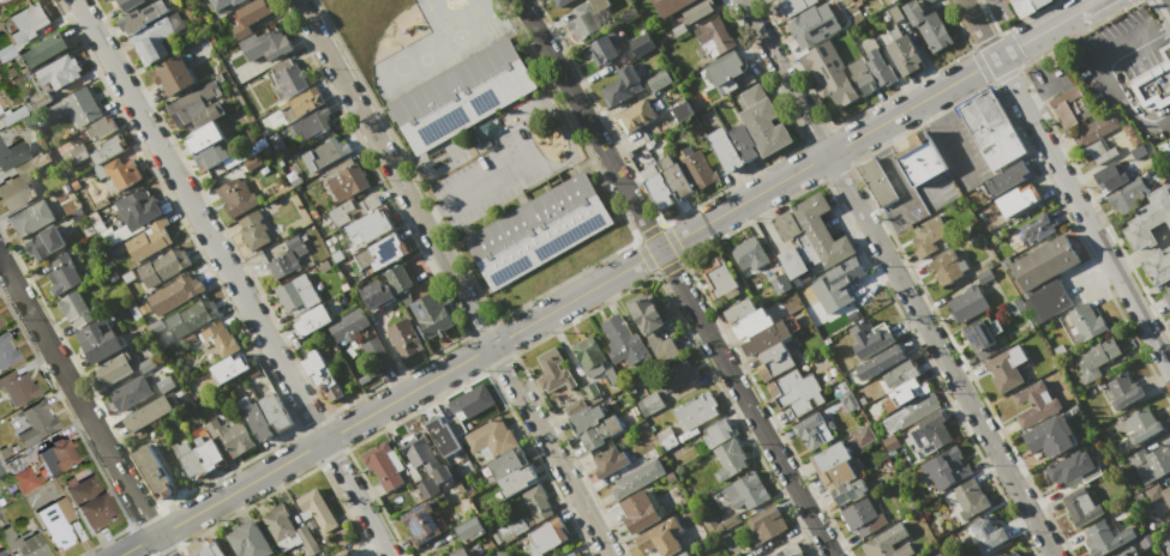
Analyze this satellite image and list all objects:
building: (103, 0)
building: (106, 0)
building: (550, 0)
building: (1030, 0)
building: (894, 1)
building: (926, 1)
building: (222, 2)
building: (559, 2)
building: (1039, 2)
building: (127, 5)
building: (793, 6)
building: (1021, 6)
building: (671, 7)
building: (696, 10)
building: (894, 13)
building: (142, 17)
building: (250, 17)
building: (590, 17)
building: (28, 22)
building: (842, 24)
building: (805, 25)
building: (928, 25)
building: (678, 29)
road: (1046, 30)
building: (715, 35)
building: (151, 41)
building: (265, 44)
building: (641, 44)
building: (602, 49)
building: (43, 50)
building: (6, 53)
building: (905, 54)
building: (725, 68)
building: (60, 69)
road: (1100, 71)
building: (870, 72)
building: (828, 73)
building: (173, 75)
building: (288, 78)
building: (659, 80)
building: (622, 85)
building: (1153, 86)
road: (1032, 92)
building: (462, 95)
building: (37, 101)
building: (301, 104)
building: (197, 105)
building: (74, 107)
building: (1069, 107)
building: (682, 110)
building: (0, 111)
building: (0, 115)
building: (637, 115)
building: (762, 121)
building: (308, 122)
building: (100, 127)
building: (1097, 128)
building: (991, 129)
road: (943, 134)
building: (1130, 134)
building: (203, 138)
building: (742, 141)
building: (275, 143)
building: (107, 150)
building: (725, 150)
building: (1165, 150)
building: (1138, 151)
building: (1094, 152)
building: (324, 153)
building: (12, 155)
building: (210, 156)
building: (920, 158)
building: (251, 162)
building: (696, 168)
building: (121, 173)
building: (674, 177)
building: (1110, 177)
building: (1006, 179)
building: (346, 180)
building: (876, 182)
building: (20, 185)
road: (1066, 185)
building: (656, 186)
road: (475, 187)
building: (1126, 195)
building: (235, 197)
building: (1018, 199)
building: (138, 208)
building: (352, 208)
building: (31, 218)
building: (1148, 219)
building: (786, 225)
building: (368, 226)
building: (1037, 229)
building: (253, 230)
building: (538, 230)
building: (928, 235)
building: (815, 238)
building: (149, 241)
building: (44, 242)
building: (382, 252)
building: (746, 253)
building: (288, 255)
building: (949, 265)
building: (163, 266)
building: (1157, 266)
building: (845, 272)
building: (62, 274)
road: (230, 277)
building: (398, 277)
road: (895, 277)
building: (1044, 277)
road: (450, 278)
road: (674, 278)
building: (719, 278)
building: (780, 283)
building: (374, 292)
building: (174, 294)
building: (1166, 294)
building: (298, 295)
building: (967, 302)
building: (76, 308)
road: (557, 308)
building: (814, 308)
building: (738, 309)
building: (431, 314)
building: (646, 314)
building: (191, 315)
building: (313, 320)
building: (751, 322)
building: (1086, 322)
building: (0, 325)
building: (348, 325)
building: (983, 337)
building: (404, 338)
building: (766, 338)
building: (870, 338)
building: (221, 339)
building: (98, 340)
building: (624, 342)
building: (664, 347)
building: (7, 351)
building: (377, 353)
building: (588, 356)
building: (775, 358)
building: (1094, 358)
building: (880, 362)
building: (145, 364)
building: (228, 368)
building: (1006, 368)
building: (113, 369)
building: (552, 371)
building: (899, 373)
building: (320, 375)
building: (674, 375)
building: (164, 383)
building: (19, 387)
building: (1122, 391)
building: (797, 392)
building: (130, 393)
building: (902, 394)
building: (472, 401)
building: (847, 401)
building: (649, 403)
building: (1034, 404)
road: (83, 409)
building: (274, 411)
building: (695, 411)
building: (910, 412)
building: (148, 413)
building: (586, 418)
building: (256, 421)
building: (36, 422)
building: (1138, 424)
building: (812, 430)
building: (599, 431)
building: (718, 431)
building: (929, 431)
building: (229, 435)
building: (1050, 435)
building: (442, 436)
building: (491, 437)
building: (665, 437)
building: (889, 442)
building: (208, 452)
building: (56, 455)
building: (424, 457)
building: (829, 458)
building: (188, 459)
building: (730, 459)
building: (608, 461)
building: (508, 463)
building: (1151, 463)
building: (383, 465)
building: (1067, 467)
building: (944, 469)
building: (1, 471)
building: (152, 471)
building: (838, 476)
building: (637, 478)
building: (25, 481)
building: (515, 481)
building: (426, 488)
building: (748, 491)
building: (848, 491)
building: (1159, 491)
building: (89, 497)
building: (970, 498)
building: (536, 502)
building: (1080, 507)
building: (317, 509)
building: (638, 512)
building: (862, 516)
building: (1169, 519)
building: (277, 521)
building: (56, 522)
building: (420, 524)
building: (719, 524)
building: (766, 524)
building: (468, 528)
building: (508, 531)
building: (986, 532)
building: (546, 537)
building: (661, 537)
building: (1105, 538)
building: (247, 539)
building: (306, 539)
building: (1145, 542)
building: (24, 543)
building: (884, 546)
building: (1168, 548)
building: (209, 550)
building: (785, 551)
building: (2, 552)
building: (347, 552)
building: (462, 552)
building: (1128, 552)
building: (572, 554)
building: (683, 554)
building: (734, 554)
building: (1010, 554)
building: (992, 555)

